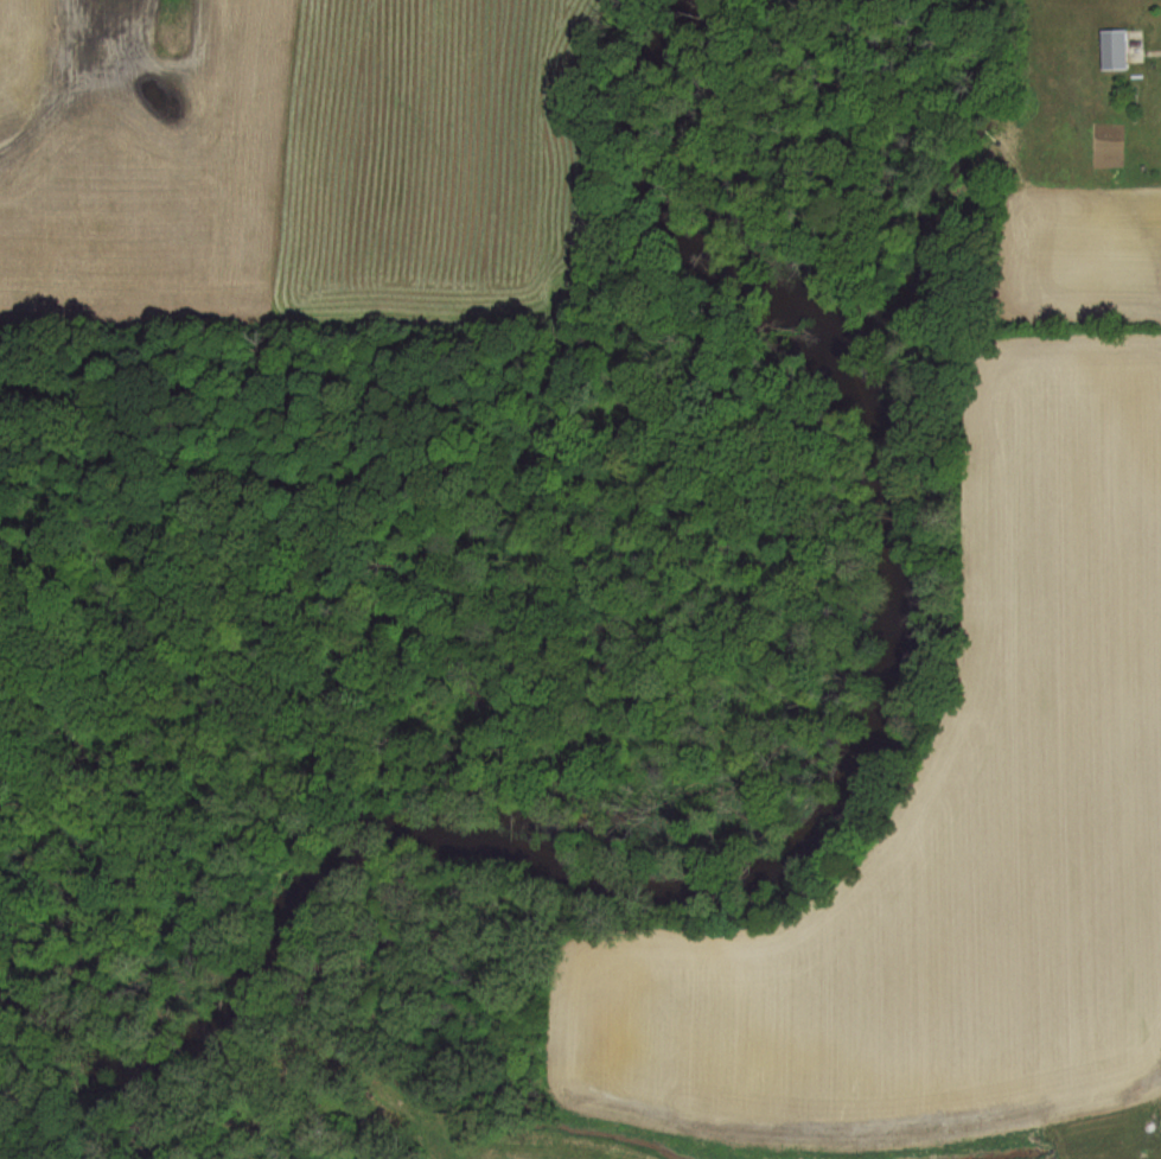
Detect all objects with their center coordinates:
building: (1112, 47)
river: (829, 800)

